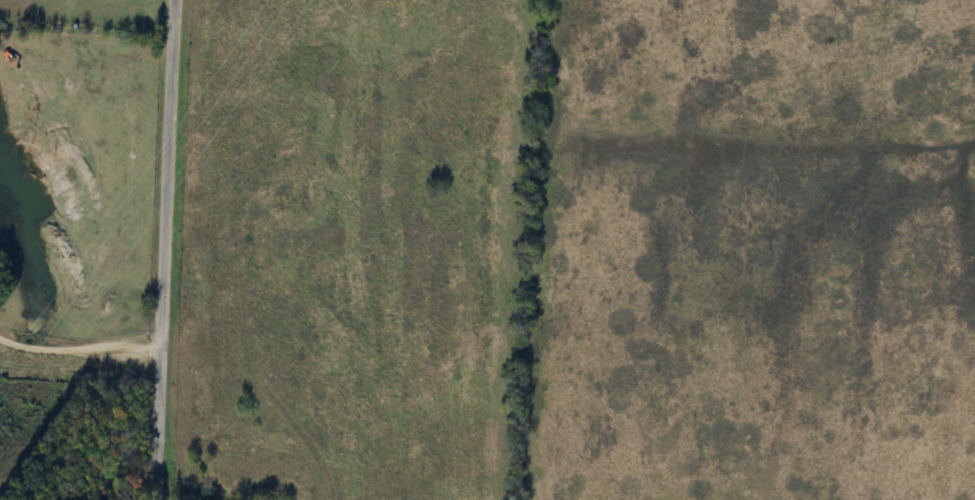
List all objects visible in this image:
road: (161, 249)
road: (78, 346)

